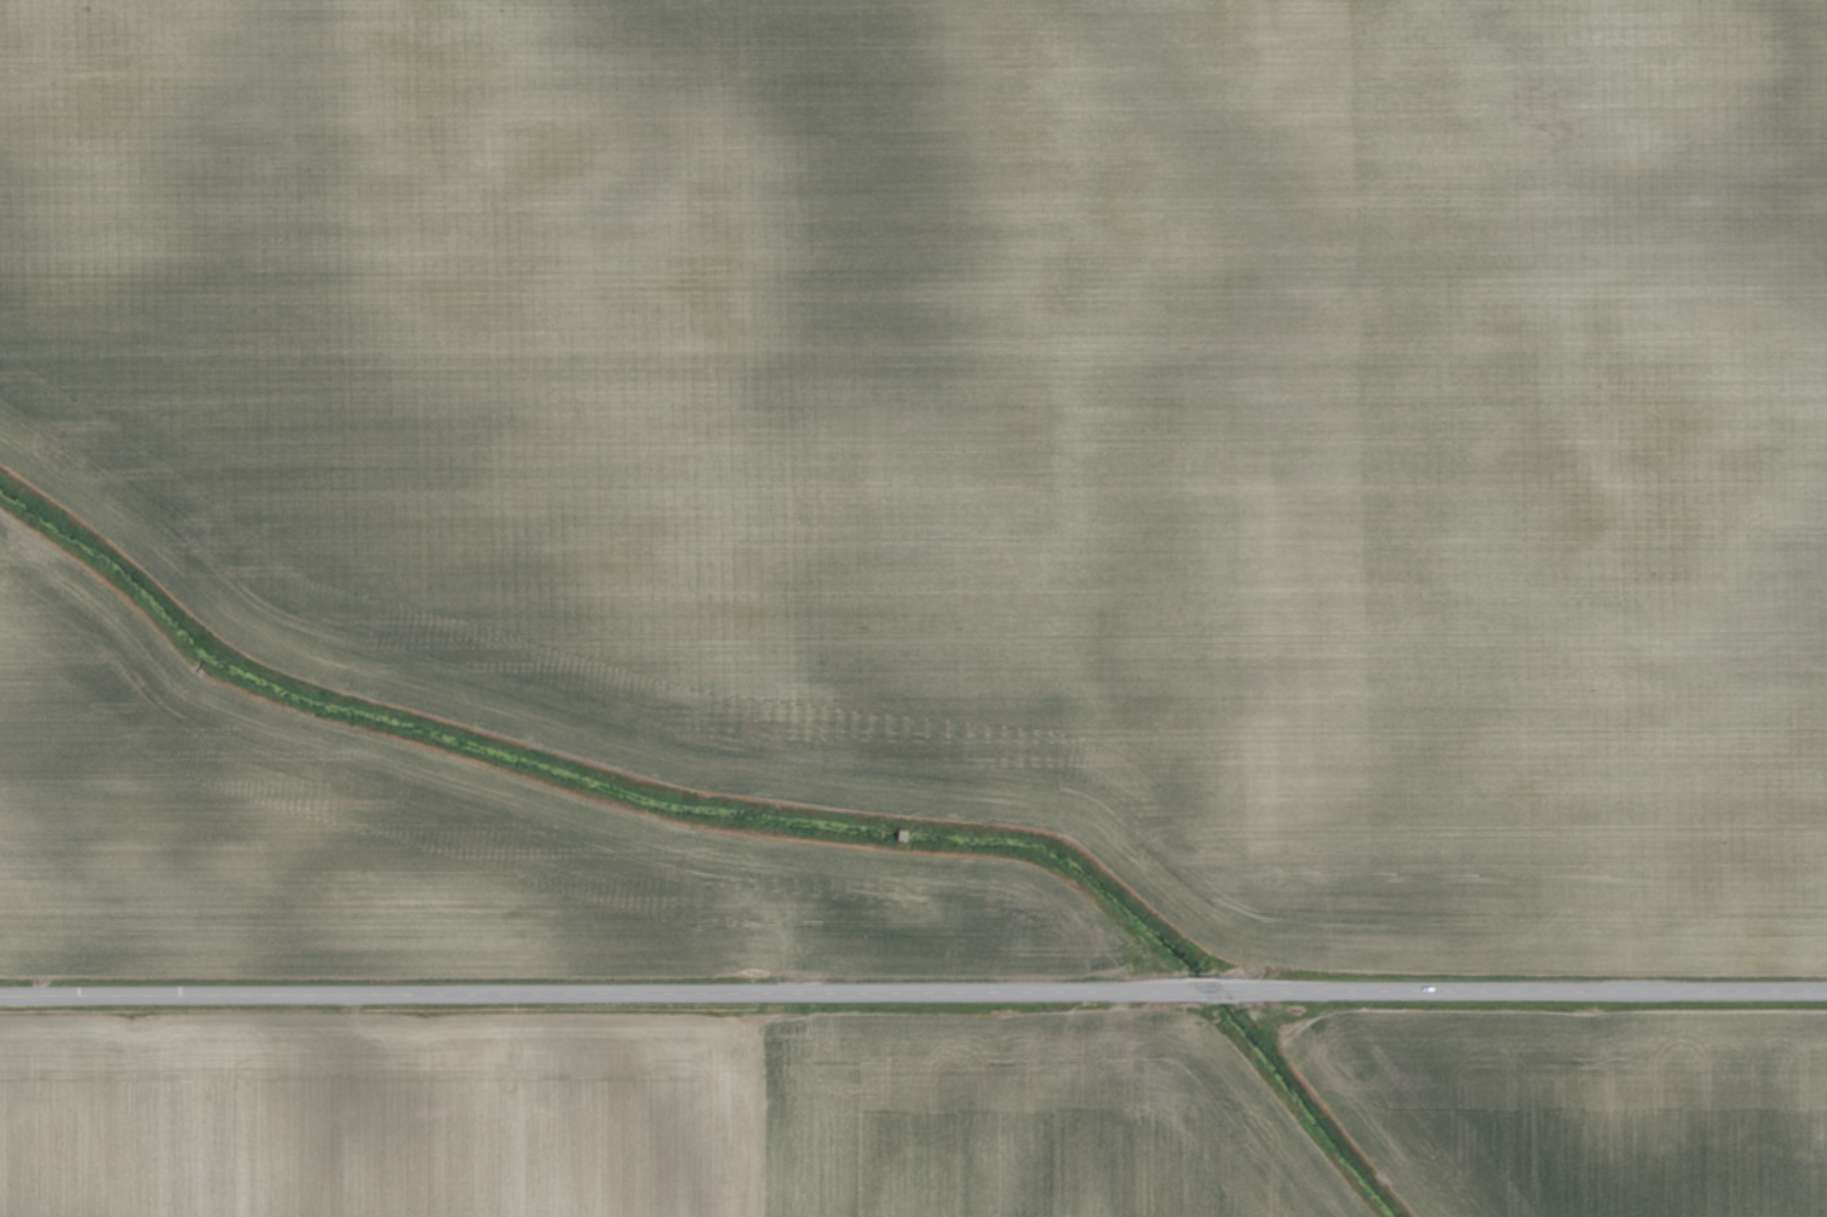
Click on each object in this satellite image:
road: (913, 980)

